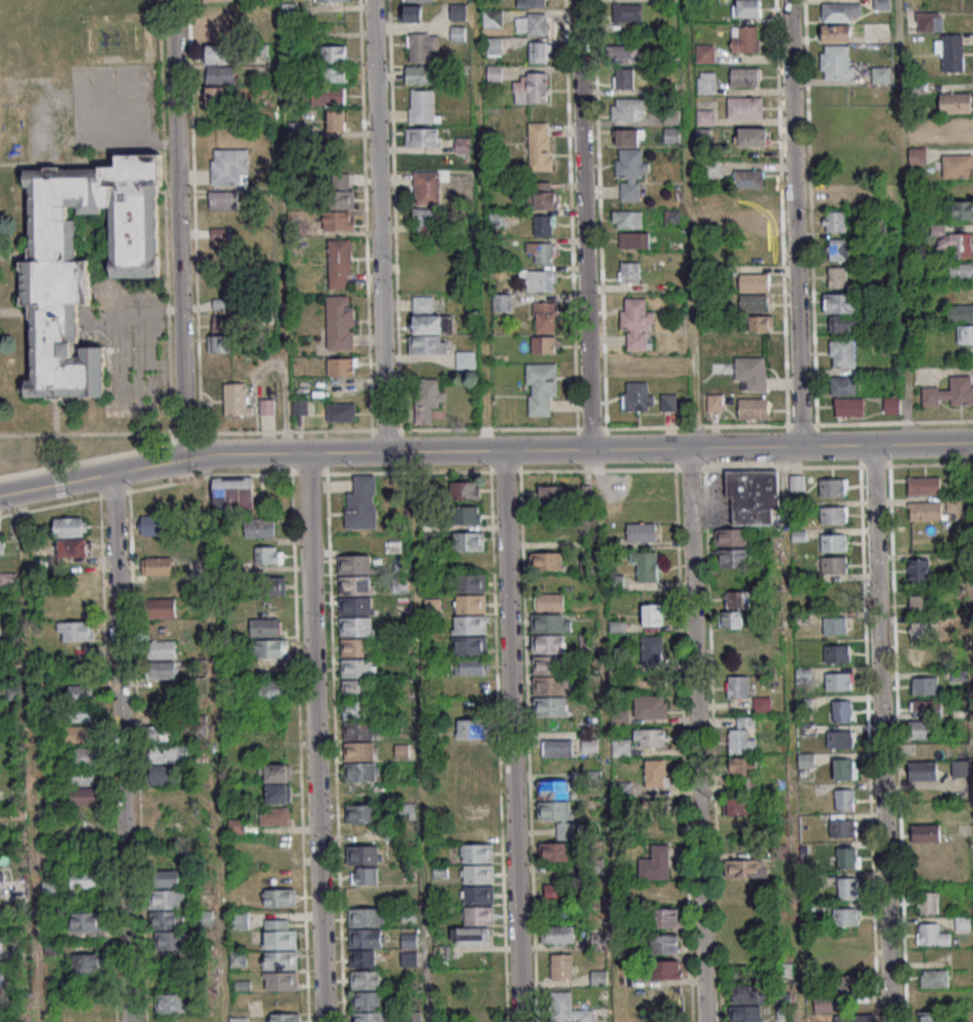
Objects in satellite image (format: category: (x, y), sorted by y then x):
building: (219, 0)
building: (333, 0)
building: (418, 0)
building: (531, 3)
building: (746, 8)
building: (457, 11)
building: (840, 11)
building: (627, 12)
building: (412, 13)
building: (492, 18)
building: (931, 22)
building: (531, 24)
building: (457, 33)
building: (837, 33)
building: (745, 39)
building: (217, 44)
building: (421, 46)
building: (493, 46)
building: (538, 52)
building: (951, 52)
building: (334, 53)
building: (704, 53)
building: (627, 54)
building: (836, 63)
building: (494, 73)
building: (335, 74)
building: (421, 74)
building: (881, 74)
building: (220, 75)
building: (745, 76)
building: (623, 78)
building: (706, 83)
building: (531, 87)
building: (216, 95)
building: (328, 96)
building: (954, 103)
building: (422, 106)
building: (744, 107)
building: (627, 109)
building: (705, 117)
building: (335, 119)
building: (958, 127)
building: (916, 132)
building: (671, 135)
building: (752, 136)
building: (423, 137)
building: (629, 137)
building: (462, 145)
building: (540, 146)
building: (917, 155)
building: (955, 166)
building: (229, 167)
building: (712, 168)
building: (630, 173)
building: (748, 178)
building: (426, 187)
building: (340, 191)
building: (541, 195)
building: (873, 196)
building: (223, 199)
building: (754, 199)
building: (961, 209)
building: (426, 217)
building: (626, 219)
building: (338, 220)
building: (497, 220)
building: (755, 220)
building: (833, 222)
road: (903, 222)
road: (794, 223)
road: (689, 224)
road: (478, 225)
building: (544, 225)
road: (583, 225)
road: (378, 226)
road: (178, 229)
building: (633, 240)
building: (958, 244)
building: (837, 249)
building: (542, 251)
building: (81, 262)
building: (339, 264)
building: (629, 272)
building: (959, 272)
building: (835, 277)
building: (539, 279)
building: (754, 282)
building: (501, 302)
building: (754, 303)
building: (841, 303)
building: (960, 313)
building: (428, 317)
building: (544, 317)
building: (339, 322)
building: (637, 323)
building: (760, 323)
building: (845, 324)
building: (221, 334)
building: (965, 334)
building: (428, 344)
building: (544, 344)
building: (842, 352)
building: (465, 359)
building: (641, 365)
building: (341, 366)
building: (750, 374)
building: (843, 385)
building: (540, 388)
building: (950, 392)
building: (637, 396)
building: (427, 398)
building: (237, 399)
building: (668, 401)
building: (714, 403)
building: (267, 406)
building: (299, 407)
building: (849, 407)
building: (753, 408)
building: (339, 412)
road: (478, 429)
road: (579, 450)
road: (484, 472)
road: (93, 477)
building: (796, 483)
building: (924, 486)
building: (833, 487)
building: (465, 490)
building: (585, 493)
building: (233, 494)
building: (552, 494)
building: (752, 496)
building: (159, 502)
building: (360, 504)
building: (925, 511)
building: (466, 515)
building: (833, 515)
building: (259, 528)
building: (641, 532)
building: (154, 536)
building: (71, 537)
building: (731, 537)
building: (427, 541)
building: (466, 542)
building: (833, 542)
building: (1, 546)
road: (969, 552)
building: (268, 555)
building: (732, 557)
building: (546, 561)
building: (353, 565)
building: (586, 565)
building: (646, 565)
building: (833, 565)
building: (157, 566)
building: (918, 570)
building: (469, 584)
building: (270, 586)
building: (352, 586)
building: (736, 599)
building: (832, 599)
building: (550, 602)
building: (470, 604)
building: (919, 604)
building: (353, 606)
building: (162, 608)
building: (652, 614)
building: (731, 619)
building: (545, 623)
building: (468, 625)
building: (834, 625)
building: (354, 626)
building: (265, 627)
building: (76, 630)
building: (922, 630)
building: (731, 642)
building: (546, 645)
building: (470, 646)
building: (271, 648)
building: (354, 648)
building: (162, 649)
building: (652, 650)
building: (837, 654)
building: (921, 658)
building: (547, 665)
building: (471, 666)
building: (355, 668)
building: (161, 669)
building: (838, 681)
building: (547, 685)
building: (738, 686)
building: (925, 686)
building: (465, 687)
building: (356, 689)
building: (271, 690)
building: (81, 693)
building: (650, 706)
building: (548, 707)
building: (926, 708)
building: (356, 710)
building: (841, 710)
building: (80, 713)
building: (619, 717)
building: (471, 729)
building: (922, 730)
building: (357, 731)
building: (160, 733)
road: (881, 733)
building: (79, 734)
road: (791, 734)
road: (605, 735)
road: (696, 735)
road: (419, 736)
road: (511, 736)
building: (742, 736)
road: (314, 737)
building: (650, 737)
road: (213, 738)
building: (840, 739)
road: (867, 744)
road: (896, 744)
building: (589, 745)
road: (682, 745)
road: (527, 746)
road: (712, 746)
road: (120, 747)
road: (334, 747)
road: (497, 747)
building: (557, 748)
building: (623, 748)
building: (358, 752)
building: (168, 754)
building: (85, 755)
road: (29, 756)
building: (471, 761)
building: (805, 761)
building: (743, 766)
building: (844, 769)
building: (923, 771)
building: (273, 773)
building: (358, 773)
building: (656, 773)
building: (162, 774)
building: (81, 778)
building: (552, 790)
building: (278, 794)
building: (84, 796)
building: (844, 799)
building: (738, 806)
building: (553, 811)
building: (653, 811)
building: (476, 812)
building: (359, 815)
building: (274, 816)
building: (236, 826)
building: (842, 826)
building: (925, 833)
building: (554, 852)
building: (476, 854)
building: (363, 855)
building: (848, 857)
building: (654, 864)
building: (745, 868)
building: (476, 875)
building: (364, 876)
building: (84, 880)
building: (2, 881)
building: (849, 888)
building: (664, 892)
building: (559, 893)
building: (477, 896)
building: (279, 897)
building: (928, 902)
building: (167, 910)
building: (406, 916)
building: (846, 916)
building: (365, 917)
building: (478, 917)
building: (664, 918)
building: (240, 920)
building: (85, 921)
building: (963, 922)
building: (278, 934)
building: (557, 934)
building: (931, 935)
building: (471, 936)
building: (409, 940)
building: (665, 944)
building: (364, 947)
building: (238, 959)
building: (409, 959)
building: (279, 960)
building: (87, 963)
building: (561, 966)
building: (667, 970)
building: (171, 975)
building: (0, 977)
building: (599, 977)
building: (933, 979)
building: (365, 980)
building: (280, 981)
building: (851, 987)
building: (747, 994)
building: (171, 1003)
building: (822, 1003)
building: (369, 1007)
building: (568, 1009)
building: (781, 1013)
building: (285, 1017)
building: (930, 1017)
building: (854, 1018)
building: (238, 1019)

